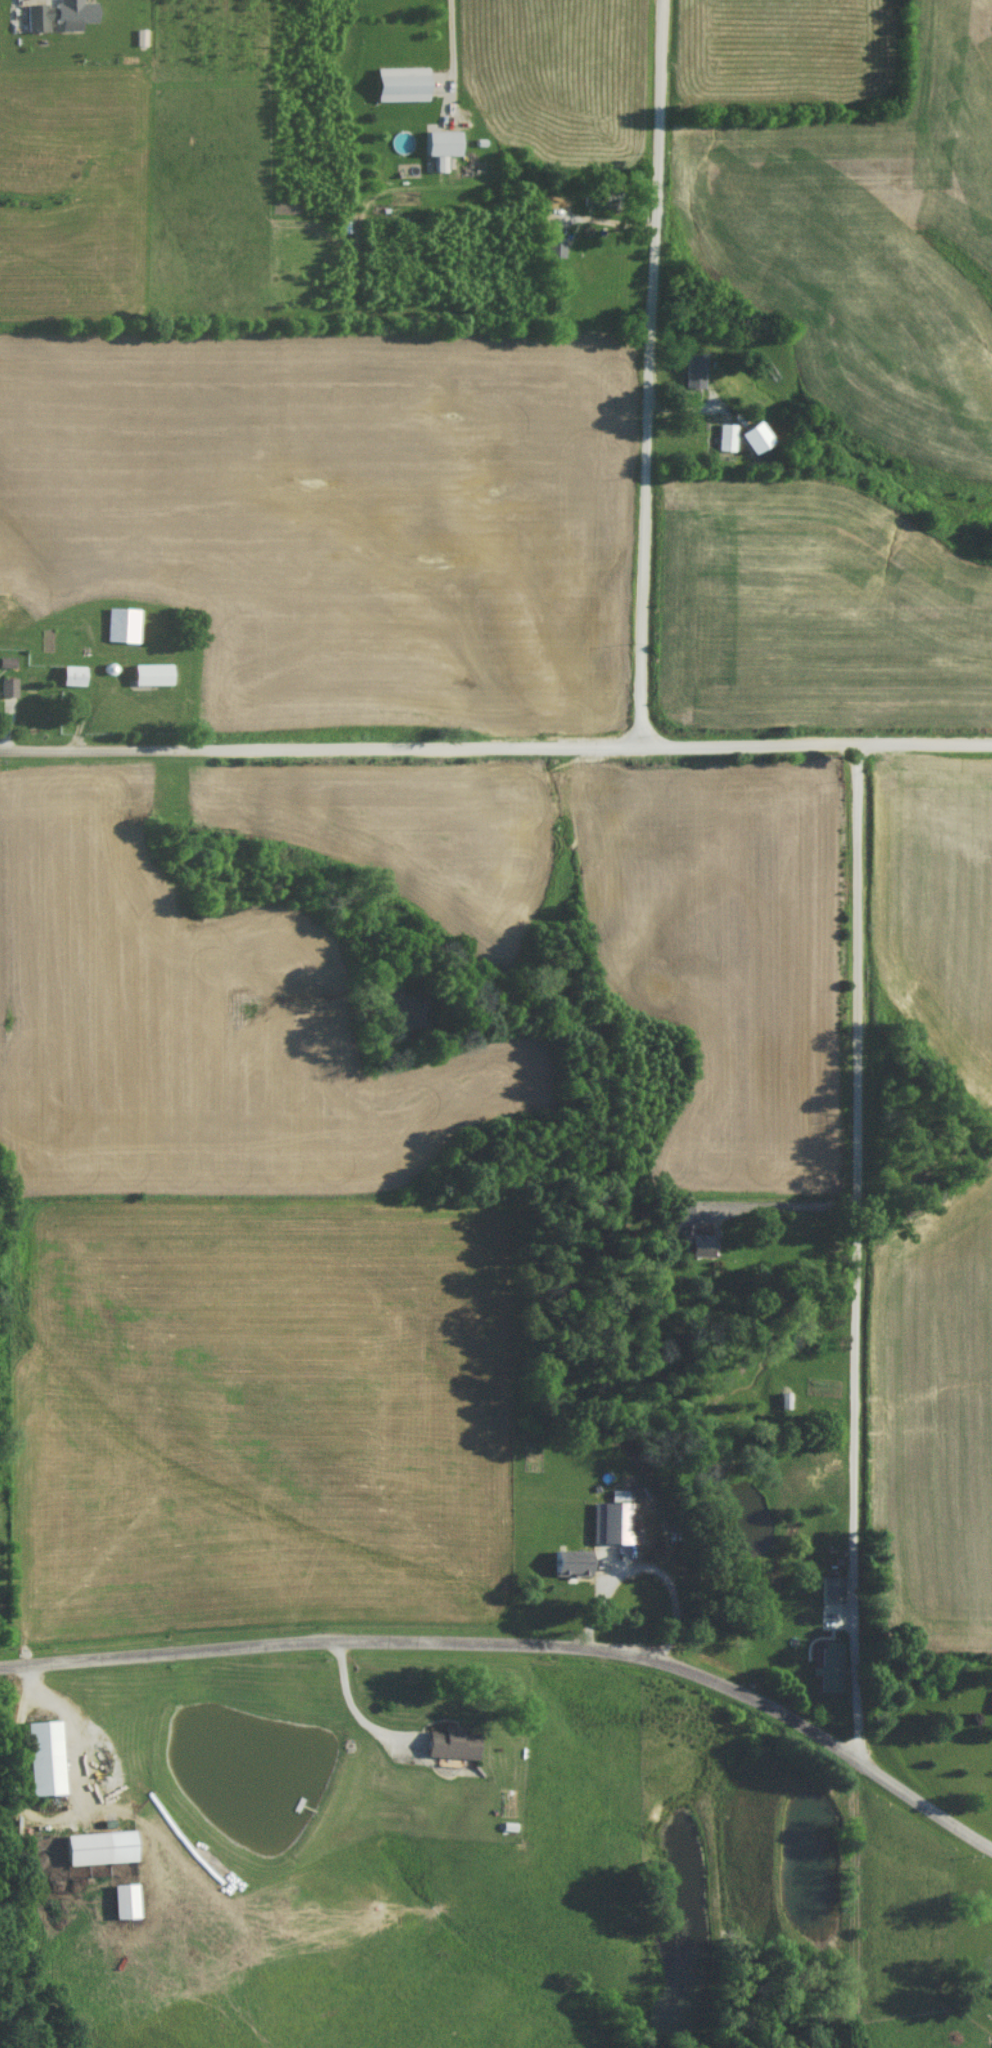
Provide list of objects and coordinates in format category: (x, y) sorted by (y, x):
building: (57, 21)
road: (449, 54)
building: (400, 143)
building: (439, 149)
building: (597, 199)
building: (553, 253)
road: (650, 373)
building: (690, 377)
building: (723, 447)
building: (120, 631)
building: (149, 680)
building: (69, 682)
building: (7, 693)
road: (496, 748)
road: (777, 1200)
building: (681, 1221)
road: (860, 1247)
building: (783, 1406)
building: (829, 1469)
building: (598, 1566)
building: (567, 1568)
building: (615, 1568)
building: (829, 1595)
road: (521, 1642)
building: (828, 1679)
building: (990, 1710)
building: (447, 1748)
building: (39, 1764)
building: (84, 1854)
road: (853, 1901)
building: (972, 1941)

